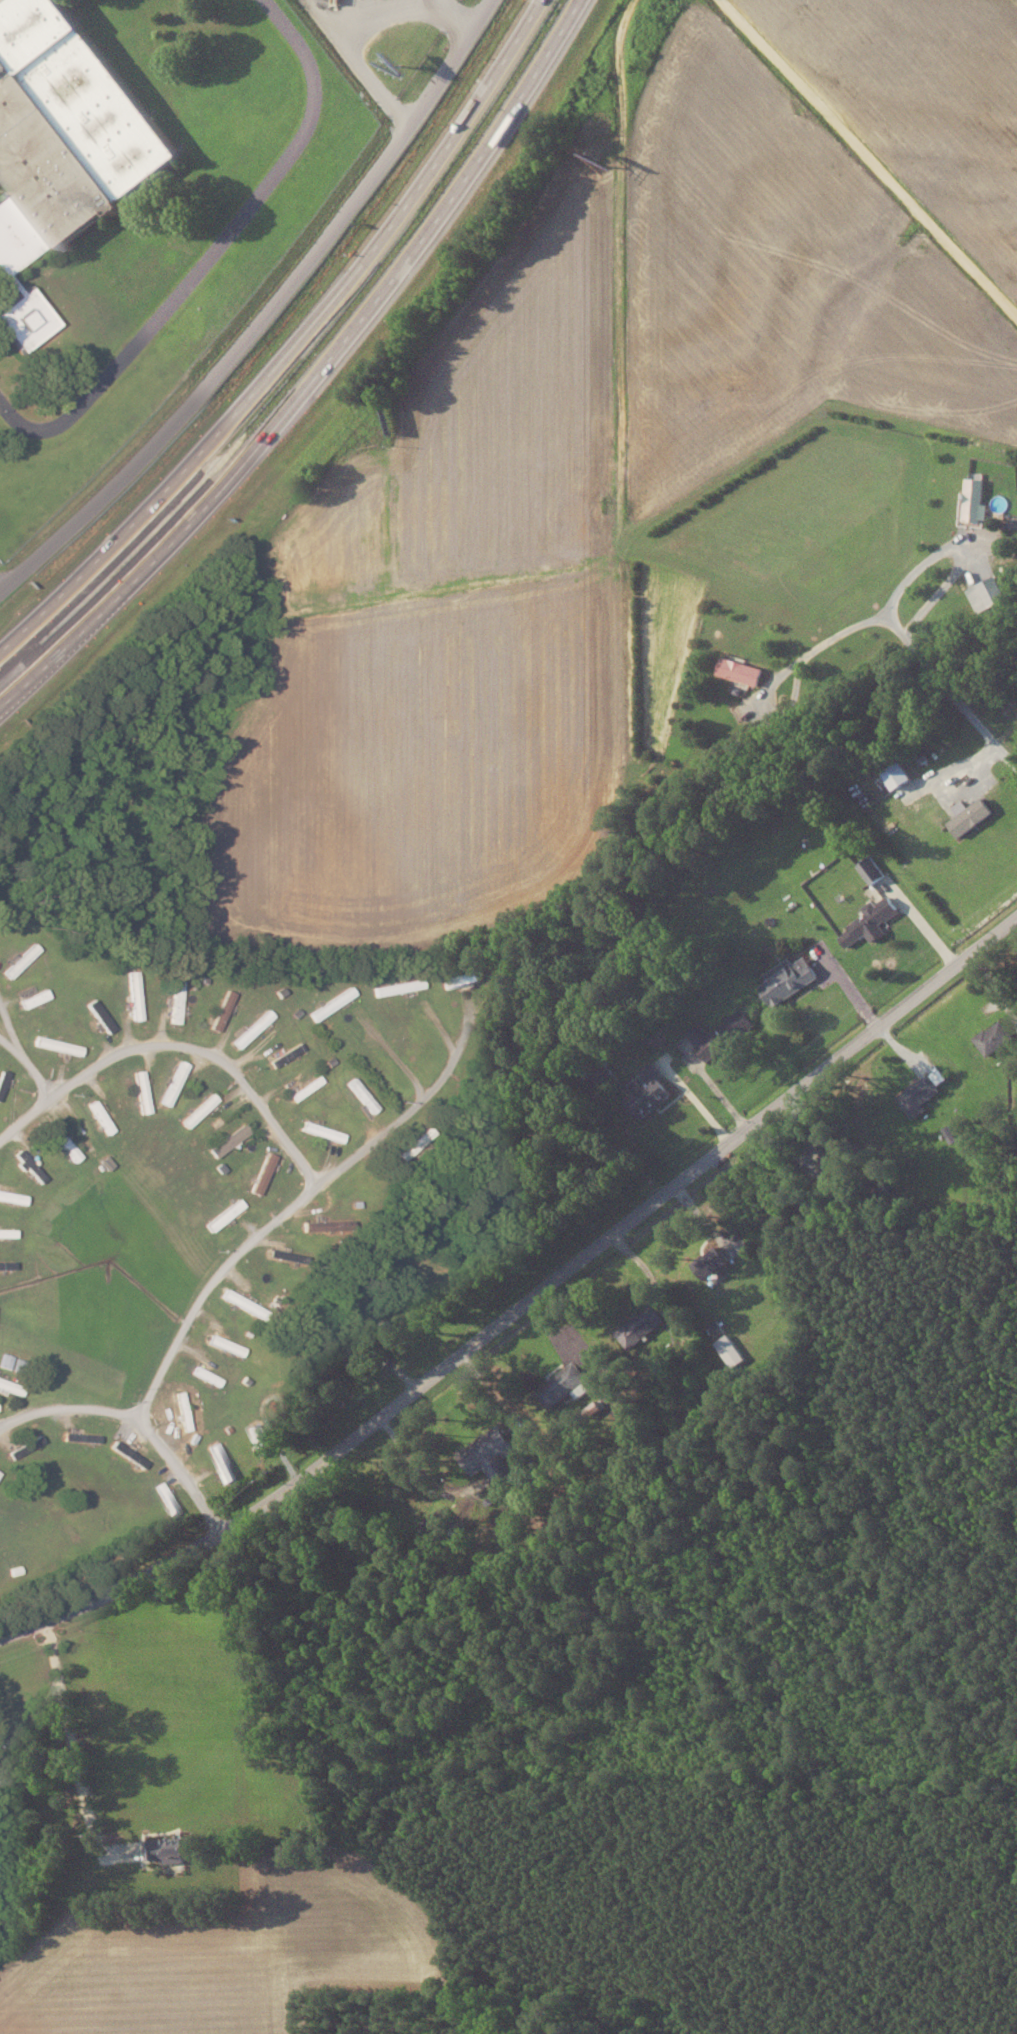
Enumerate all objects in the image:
building: (62, 131)
road: (865, 158)
road: (266, 313)
building: (25, 320)
road: (628, 328)
road: (297, 349)
road: (321, 376)
building: (974, 502)
road: (916, 574)
building: (987, 595)
road: (828, 643)
building: (739, 672)
road: (951, 691)
building: (892, 779)
building: (968, 817)
building: (871, 871)
building: (870, 923)
building: (21, 961)
building: (461, 980)
building: (787, 981)
building: (397, 988)
building: (33, 999)
building: (336, 1000)
building: (176, 1001)
building: (136, 1006)
building: (222, 1010)
road: (13, 1017)
building: (252, 1028)
building: (719, 1034)
road: (12, 1038)
road: (179, 1038)
building: (993, 1038)
road: (43, 1070)
building: (178, 1071)
building: (646, 1091)
building: (167, 1094)
building: (918, 1095)
building: (199, 1109)
building: (322, 1131)
building: (228, 1140)
building: (21, 1155)
building: (835, 1160)
building: (263, 1173)
building: (11, 1197)
building: (323, 1225)
building: (710, 1262)
building: (7, 1264)
road: (229, 1265)
building: (236, 1299)
road: (522, 1304)
building: (639, 1326)
building: (225, 1345)
building: (730, 1351)
building: (352, 1352)
building: (6, 1360)
building: (11, 1385)
building: (563, 1386)
building: (489, 1455)
road: (188, 1472)
building: (436, 1523)
road: (73, 1738)
building: (3, 1777)
building: (169, 1850)

